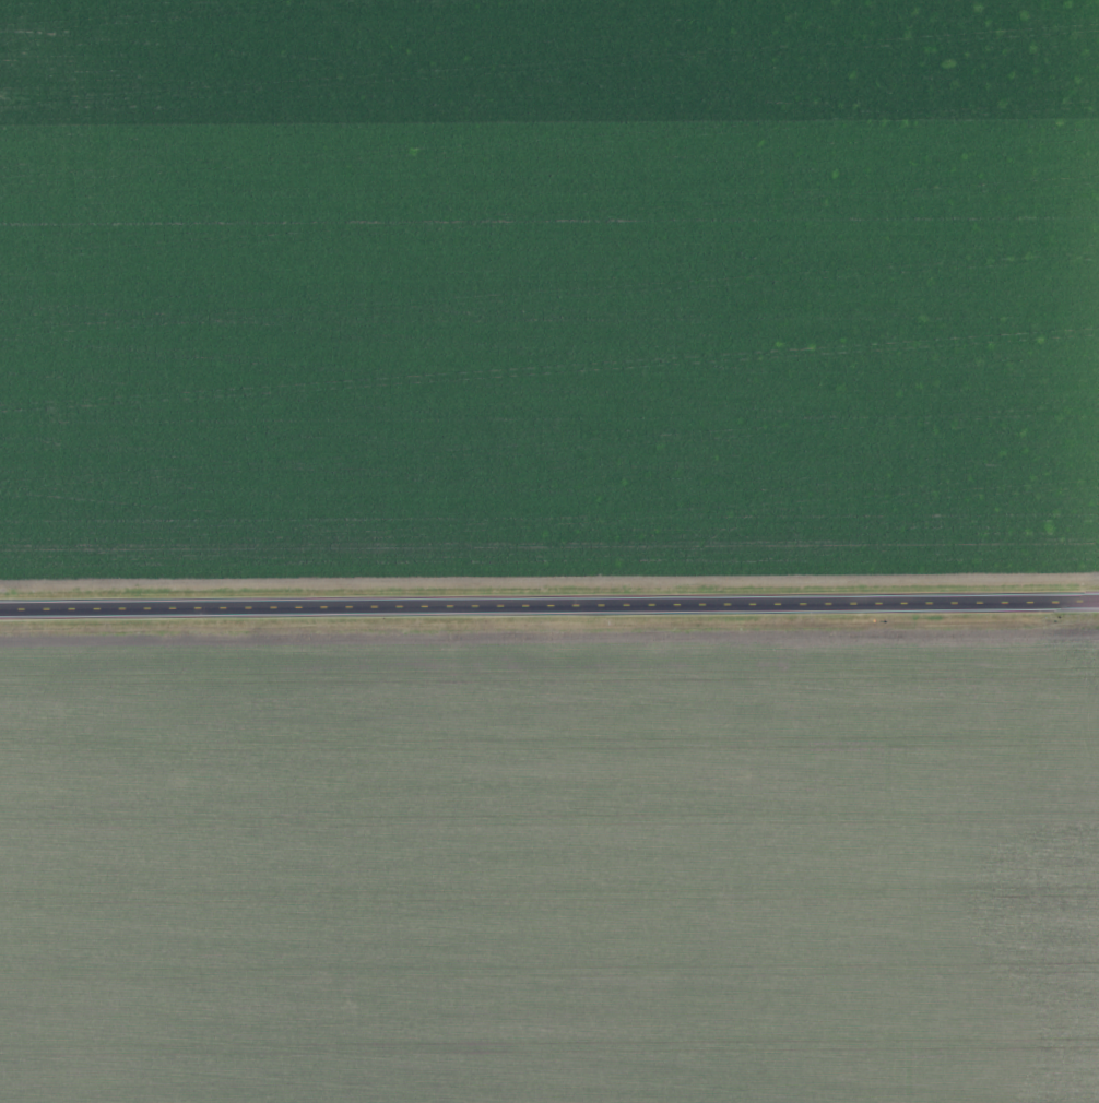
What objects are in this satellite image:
road: (548, 601)

